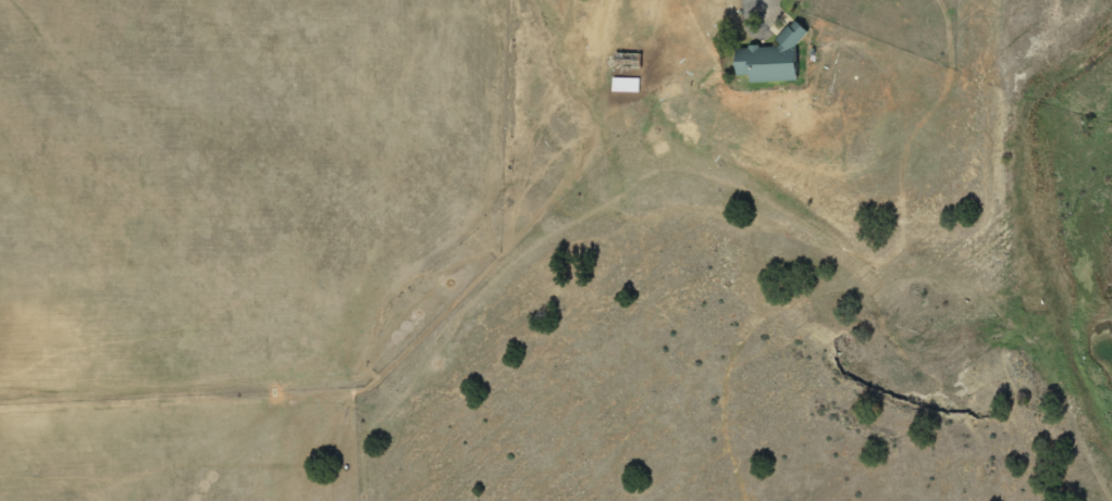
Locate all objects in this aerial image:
road: (746, 4)

